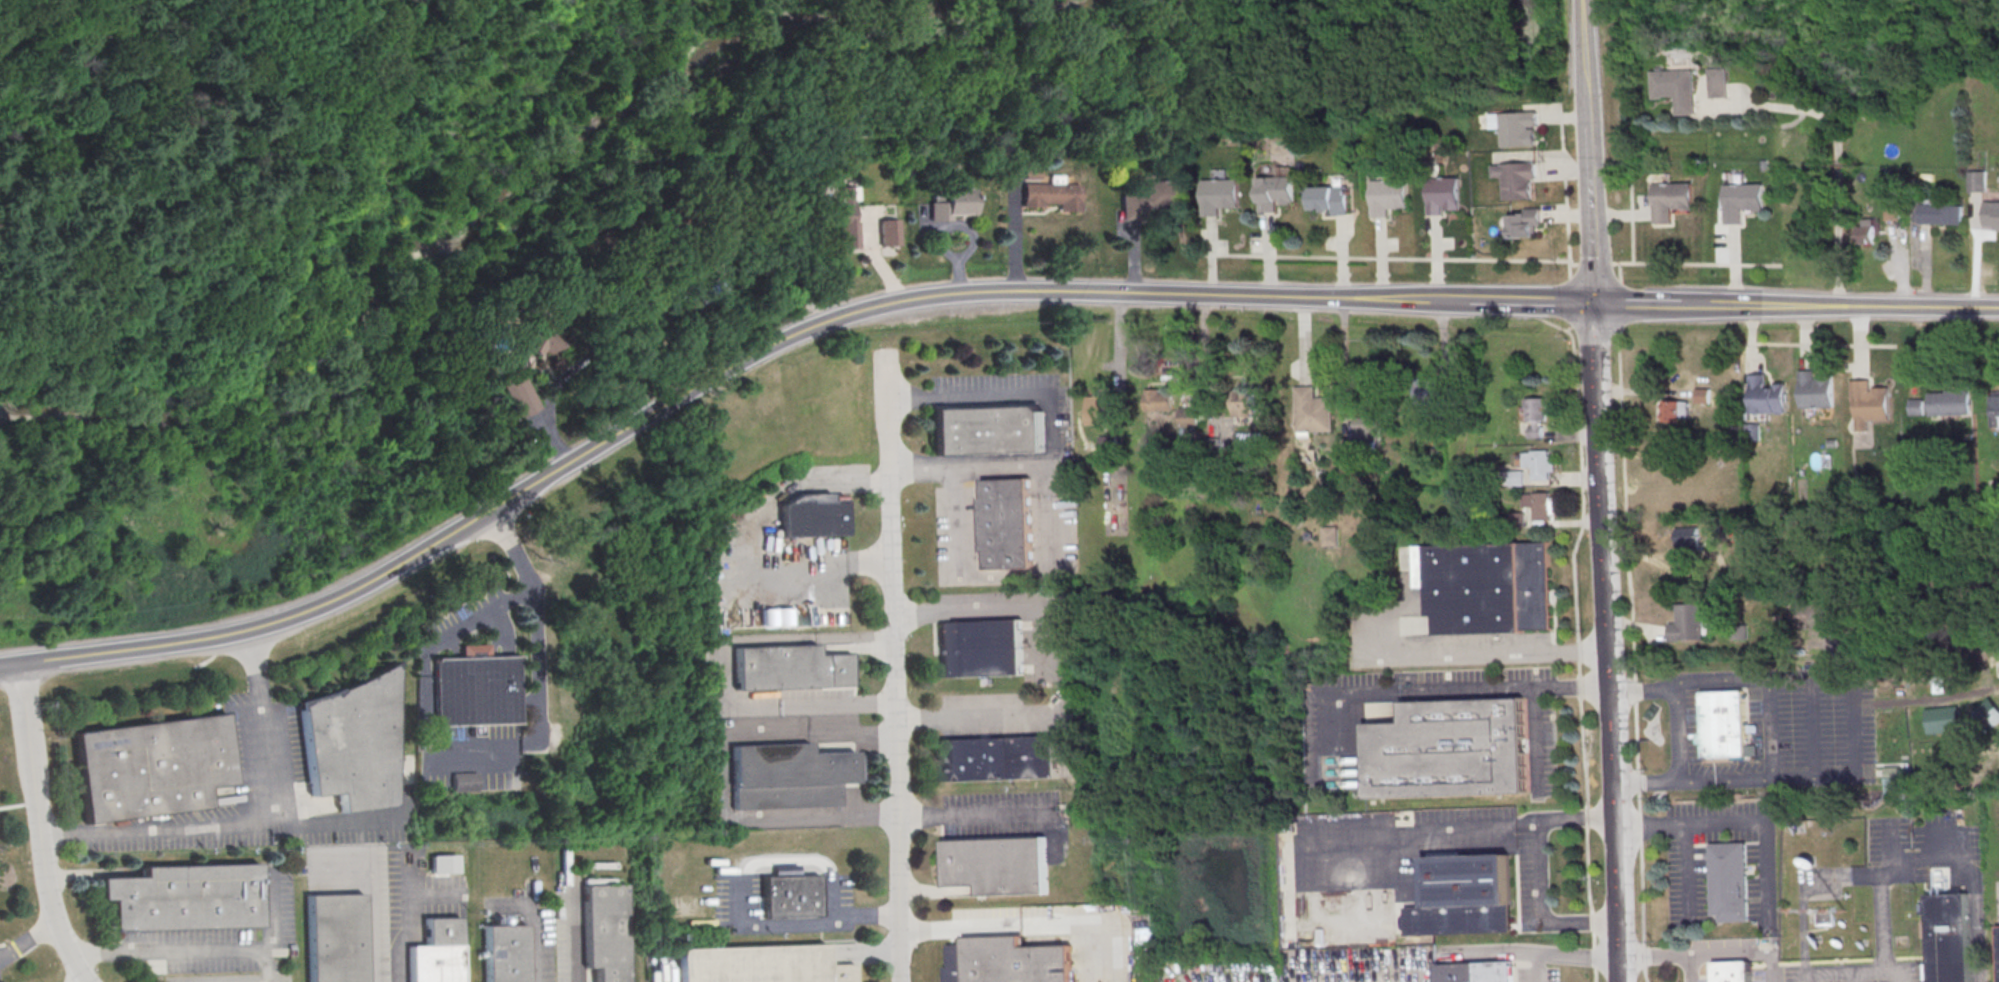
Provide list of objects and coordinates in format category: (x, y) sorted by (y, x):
road: (827, 6)
road: (1346, 12)
road: (1634, 14)
road: (823, 24)
road: (1091, 39)
road: (819, 42)
park: (311, 56)
building: (1718, 84)
road: (1587, 86)
road: (958, 89)
building: (1676, 89)
road: (804, 107)
building: (1519, 129)
road: (1838, 145)
building: (1030, 175)
building: (1517, 179)
building: (1978, 182)
road: (1566, 183)
building: (1276, 193)
building: (1445, 195)
building: (1221, 196)
building: (1052, 197)
building: (1389, 197)
building: (1153, 199)
building: (1332, 199)
building: (1670, 200)
building: (1742, 202)
building: (952, 205)
building: (1891, 210)
road: (239, 213)
building: (1941, 215)
building: (1991, 215)
building: (837, 217)
building: (1526, 224)
building: (669, 227)
building: (1866, 232)
building: (887, 233)
road: (1591, 238)
road: (1014, 239)
road: (873, 256)
road: (1133, 256)
road: (1490, 260)
road: (759, 280)
building: (706, 290)
road: (1547, 303)
traffic signals: (1592, 304)
road: (1637, 304)
road: (1760, 306)
road: (1918, 307)
building: (538, 336)
road: (1305, 341)
road: (730, 366)
road: (1595, 368)
park: (626, 382)
building: (1816, 391)
building: (519, 394)
building: (1428, 394)
building: (1705, 395)
building: (1769, 396)
building: (1245, 401)
building: (1158, 402)
building: (1949, 403)
building: (1869, 404)
building: (1916, 408)
building: (1100, 409)
building: (1675, 411)
building: (1314, 412)
building: (1994, 412)
road: (552, 413)
building: (1450, 416)
building: (1537, 416)
building: (1189, 419)
building: (1368, 426)
building: (987, 430)
building: (1753, 431)
building: (1109, 446)
building: (1542, 466)
road: (973, 470)
building: (1517, 479)
building: (1543, 507)
road: (1055, 510)
building: (812, 516)
building: (1518, 520)
building: (1006, 523)
building: (1332, 537)
building: (1688, 538)
road: (816, 567)
building: (1109, 584)
building: (1486, 588)
road: (1004, 609)
road: (481, 616)
road: (534, 619)
building: (1687, 623)
building: (1738, 633)
road: (860, 638)
building: (982, 648)
road: (1486, 651)
road: (1579, 655)
road: (727, 659)
road: (1633, 662)
road: (253, 664)
road: (8, 666)
road: (900, 666)
building: (790, 667)
building: (476, 690)
road: (1470, 691)
road: (845, 706)
road: (1608, 707)
road: (975, 716)
building: (1945, 719)
building: (1723, 725)
parking lot: (1801, 732)
road: (856, 733)
road: (1678, 734)
road: (1538, 739)
building: (351, 742)
building: (1448, 749)
building: (1000, 758)
road: (260, 763)
building: (150, 766)
building: (789, 776)
building: (463, 781)
road: (724, 791)
road: (871, 814)
road: (980, 815)
road: (1574, 818)
road: (1735, 821)
road: (37, 827)
road: (221, 827)
building: (443, 863)
building: (998, 865)
road: (1684, 867)
road: (1540, 871)
road: (1888, 873)
building: (1728, 882)
building: (1463, 895)
building: (183, 896)
building: (792, 896)
road: (370, 898)
road: (267, 915)
building: (1825, 920)
road: (1579, 922)
road: (806, 924)
road: (1057, 924)
road: (960, 928)
road: (535, 929)
building: (604, 930)
parking lot: (223, 935)
building: (334, 937)
building: (1947, 938)
road: (576, 939)
road: (28, 941)
road: (186, 950)
building: (1997, 951)
building: (436, 952)
building: (504, 953)
road: (1744, 954)
road: (1653, 955)
road: (1564, 956)
building: (1007, 961)
road: (400, 962)
building: (763, 965)
road: (666, 966)
parking lot: (664, 968)
road: (1690, 968)
building: (1732, 971)
building: (1475, 972)

